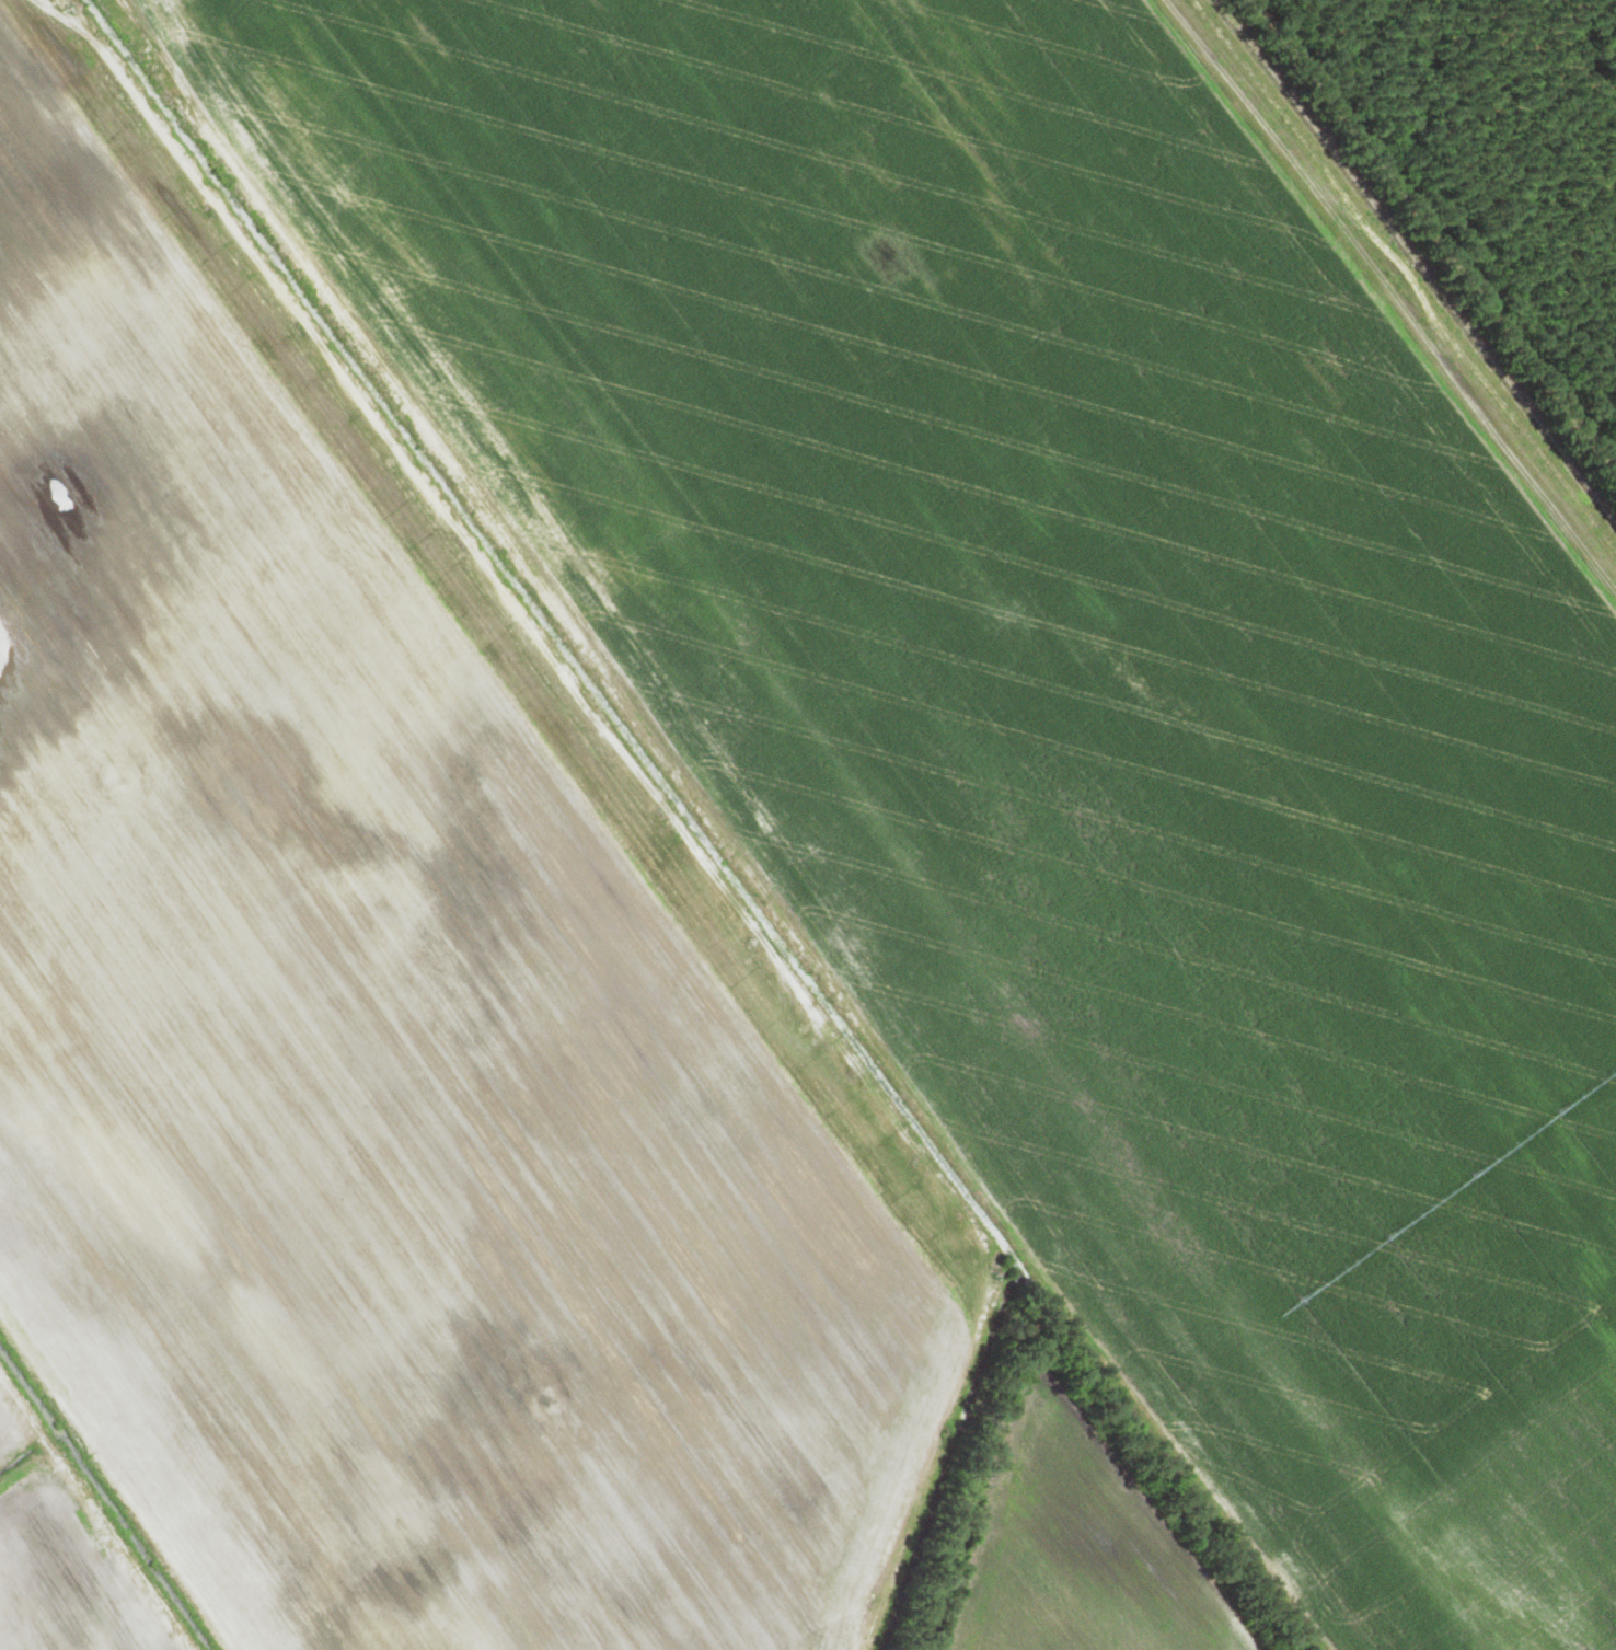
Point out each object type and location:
road: (1439, 226)

